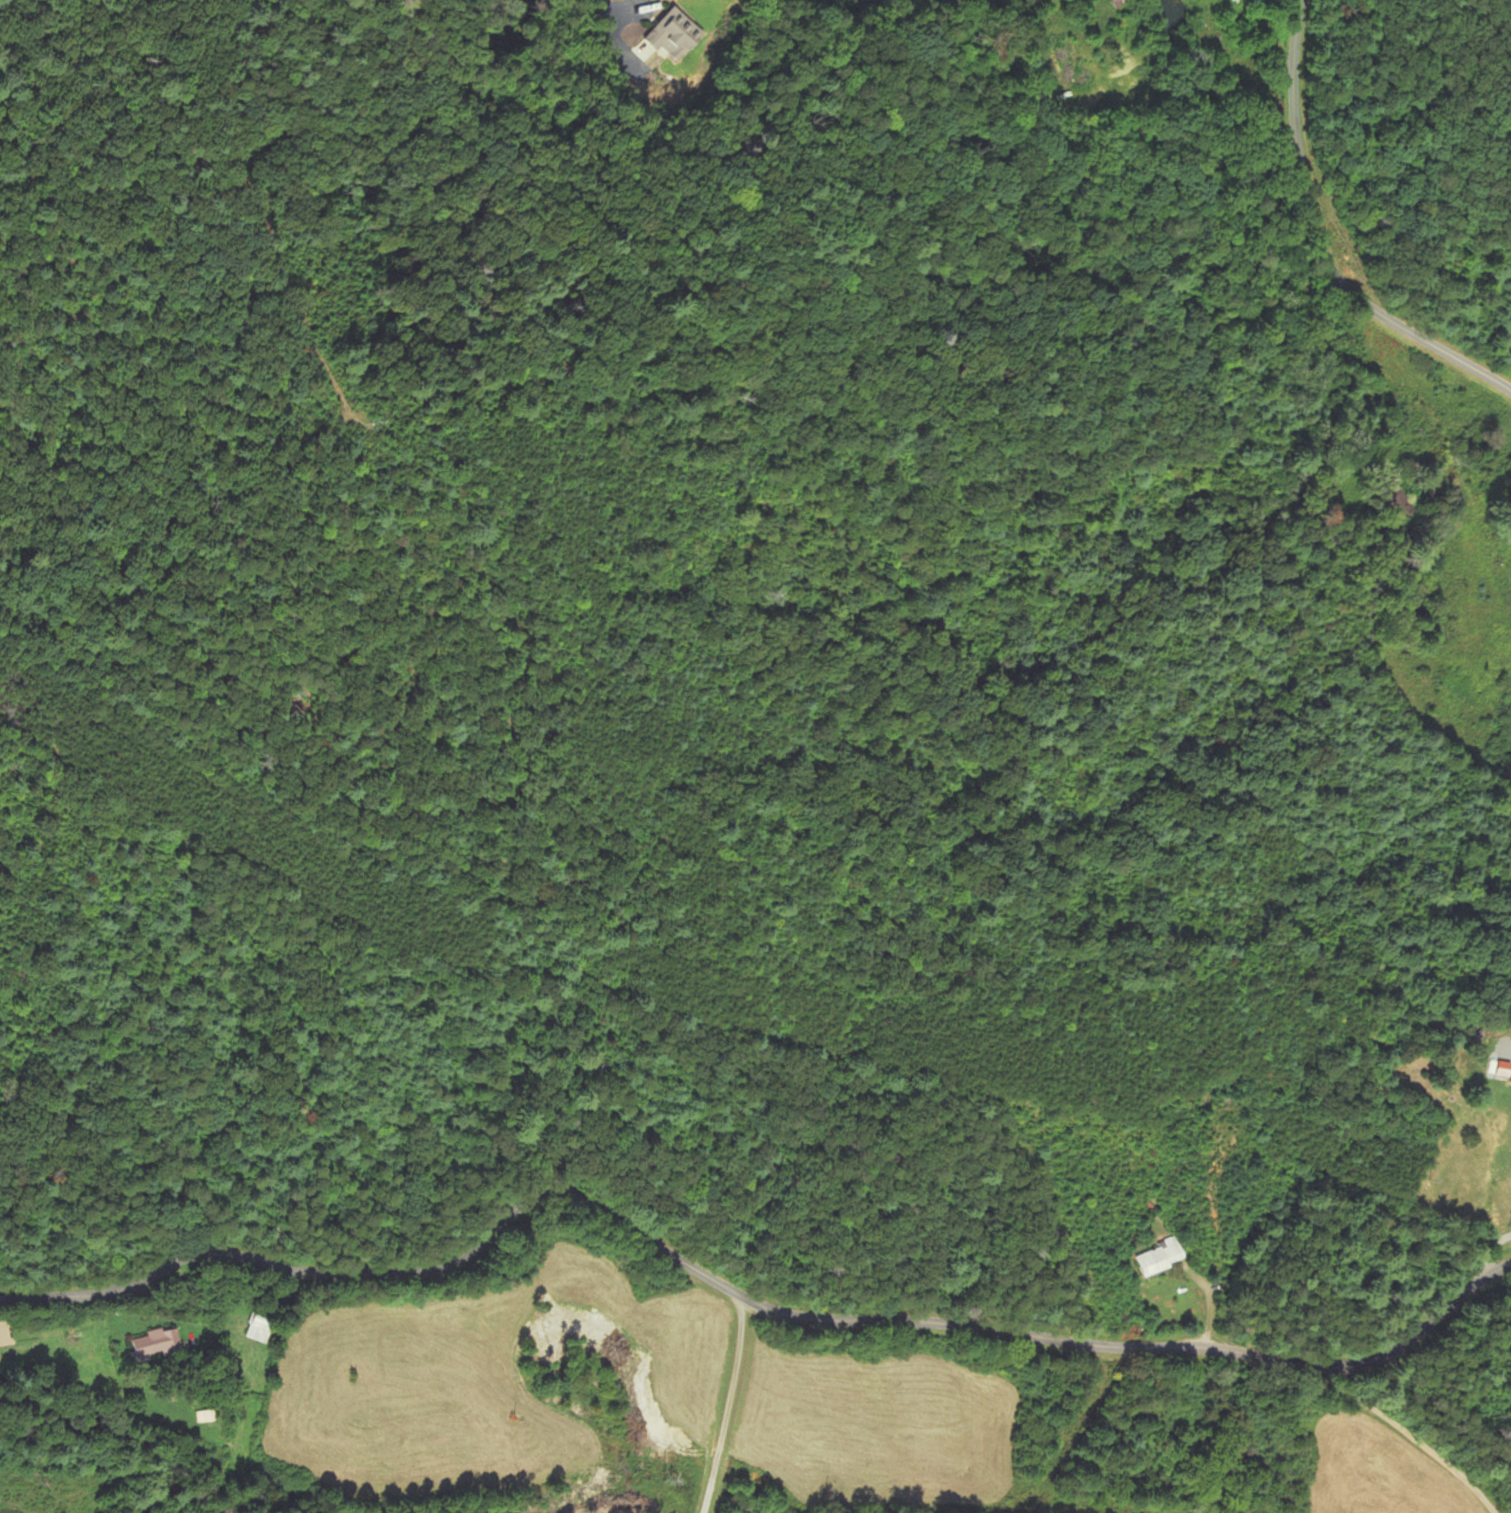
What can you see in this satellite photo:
road: (631, 2)
building: (666, 36)
road: (1320, 239)
building: (1161, 1257)
road: (741, 1291)
building: (3, 1335)
building: (158, 1345)
road: (723, 1402)
road: (1406, 1426)

